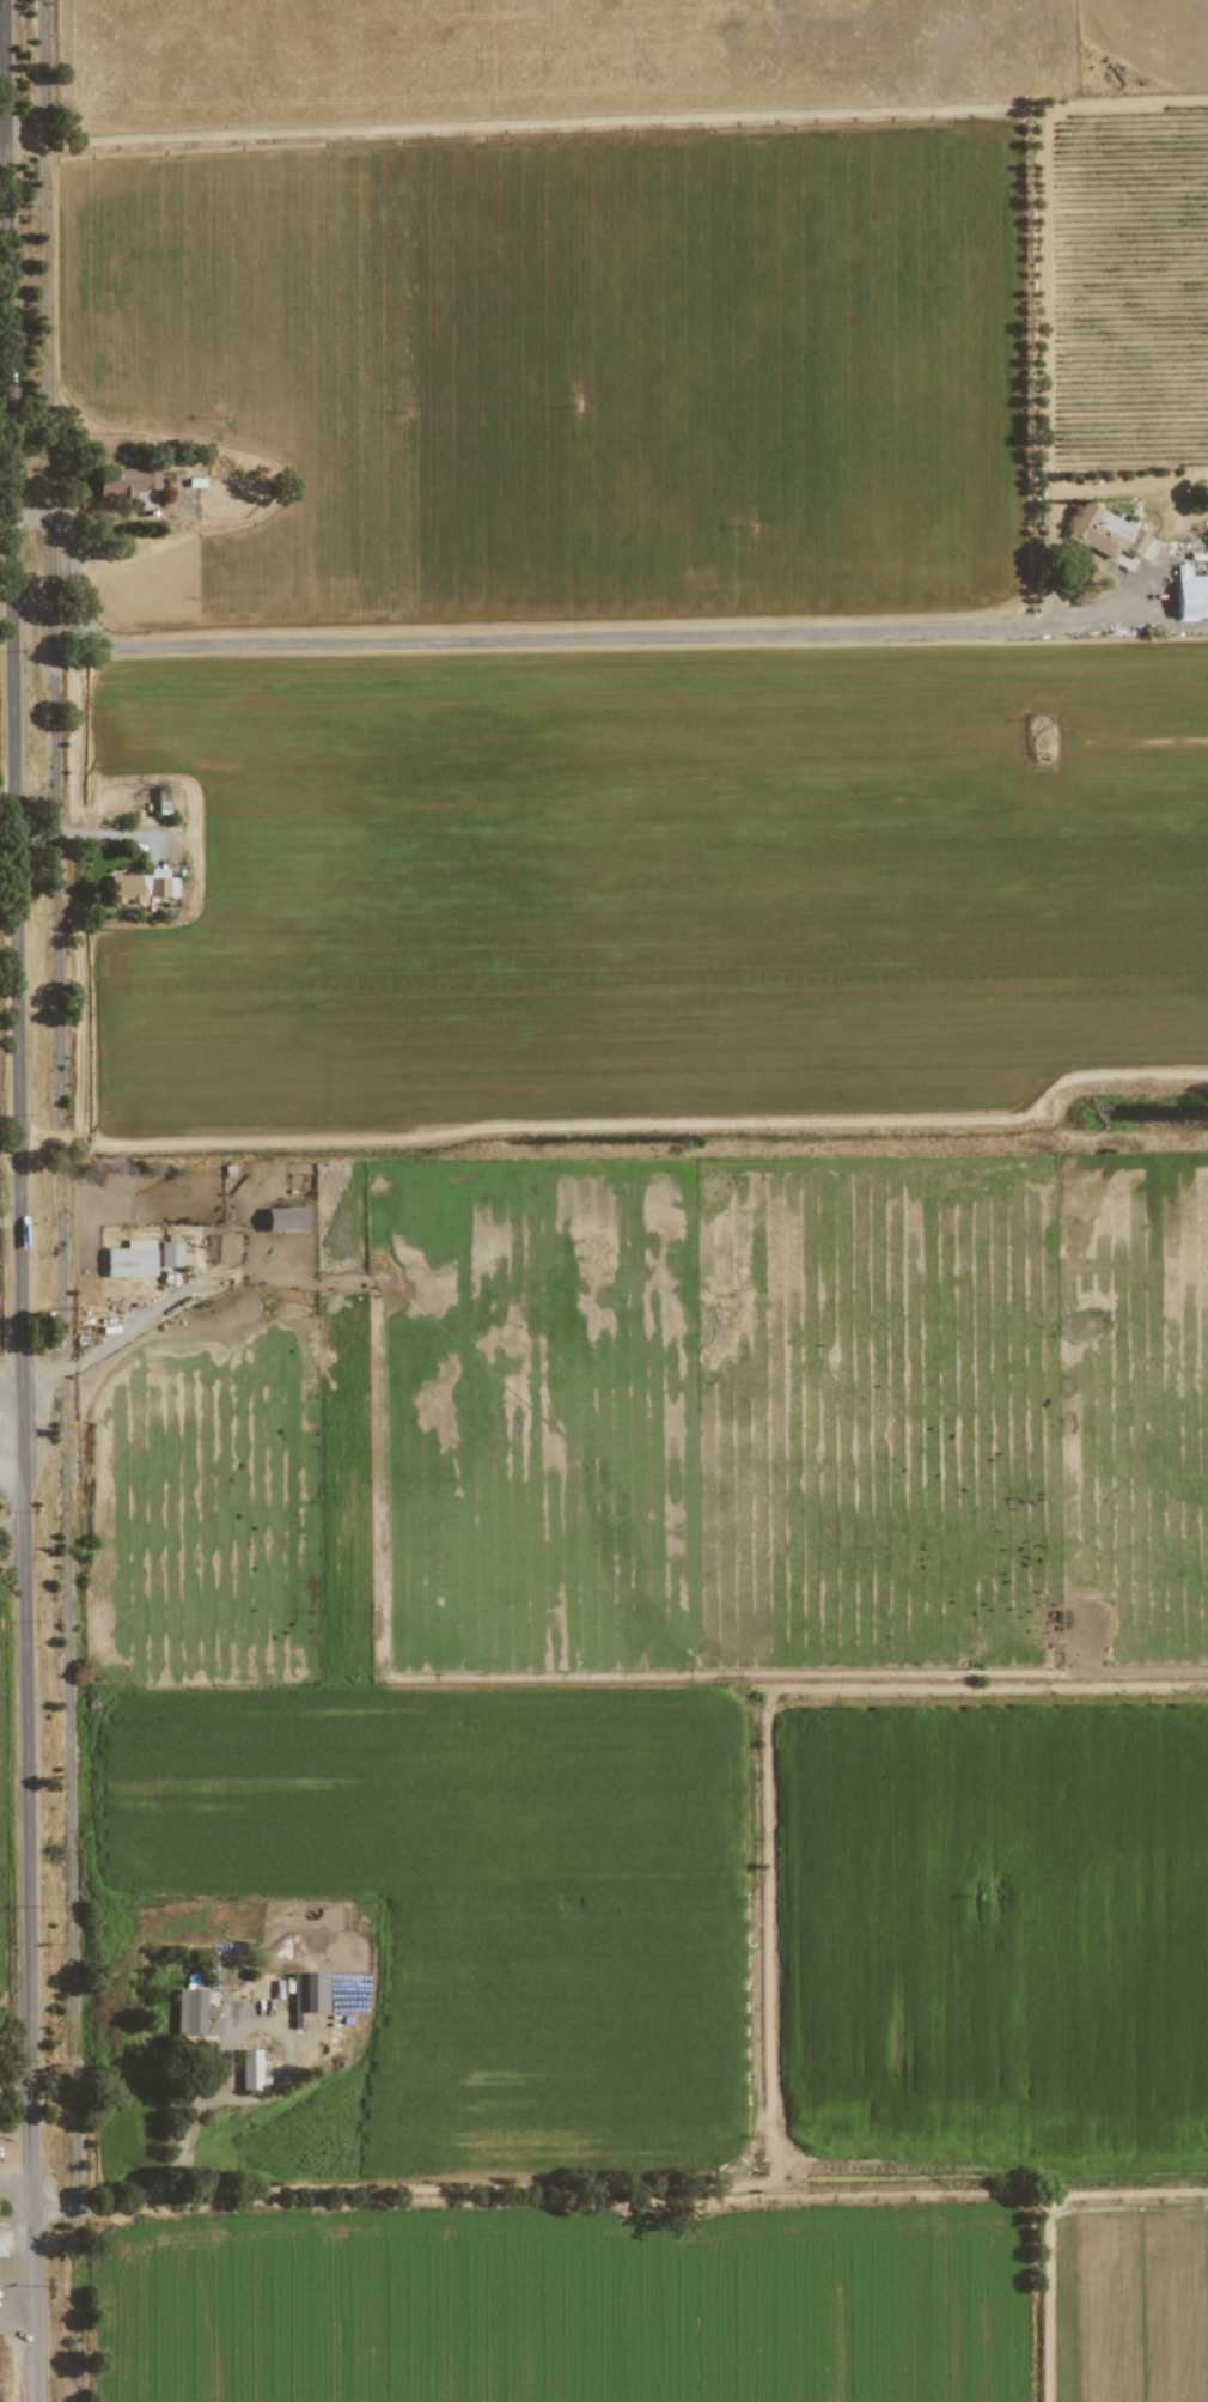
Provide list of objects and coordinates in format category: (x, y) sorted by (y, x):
building: (132, 482)
building: (1105, 533)
building: (1190, 594)
road: (524, 639)
road: (89, 834)
building: (160, 884)
building: (127, 889)
road: (18, 1200)
building: (283, 1220)
building: (170, 1254)
building: (130, 1260)
road: (141, 1319)
road: (49, 1376)
building: (307, 1994)
building: (191, 2012)
building: (249, 2069)
road: (213, 2096)
road: (11, 2193)
road: (25, 2207)
road: (14, 2220)
building: (0, 2246)
road: (7, 2267)
road: (16, 2281)
road: (7, 2319)

